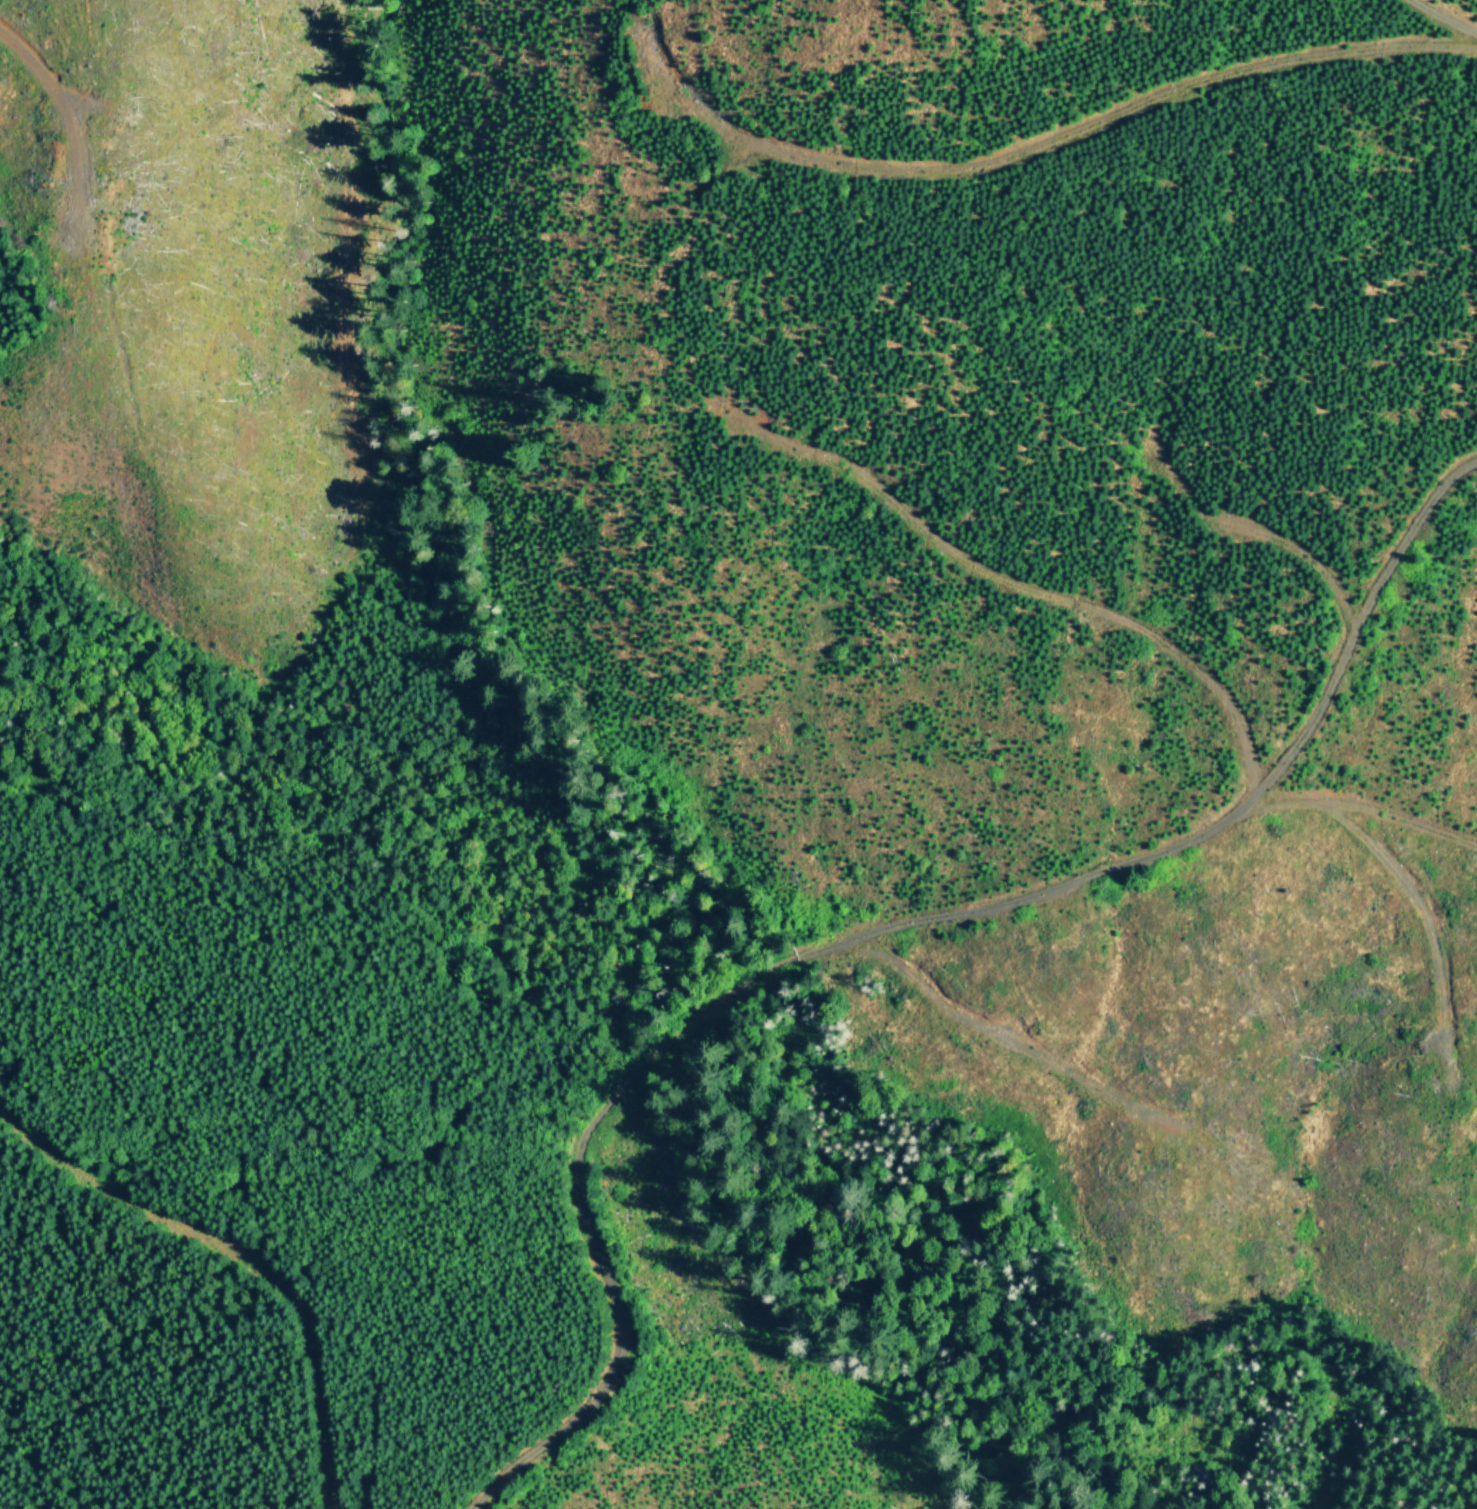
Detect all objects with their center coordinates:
road: (243, 1252)

